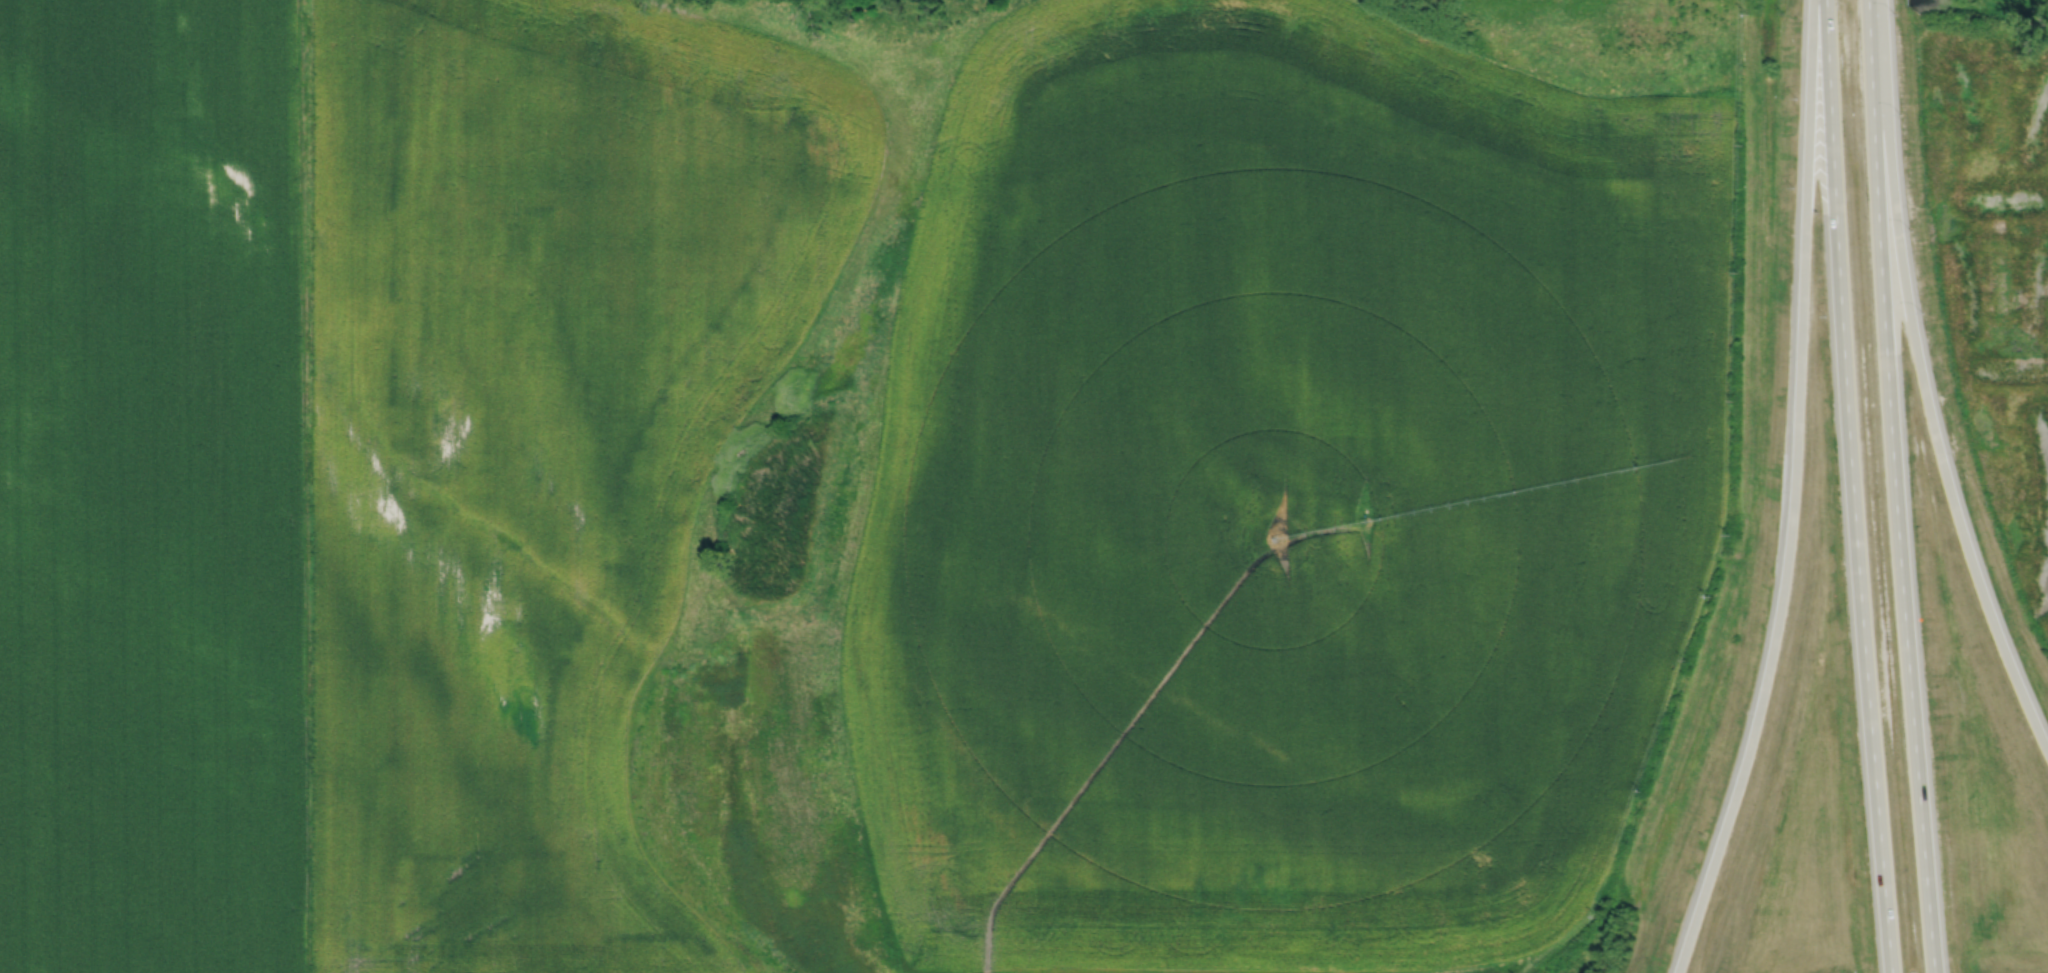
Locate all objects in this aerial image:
road: (1923, 384)
crop: (376, 461)
road: (1852, 486)
road: (1895, 486)
road: (1794, 494)
crop: (1283, 496)

